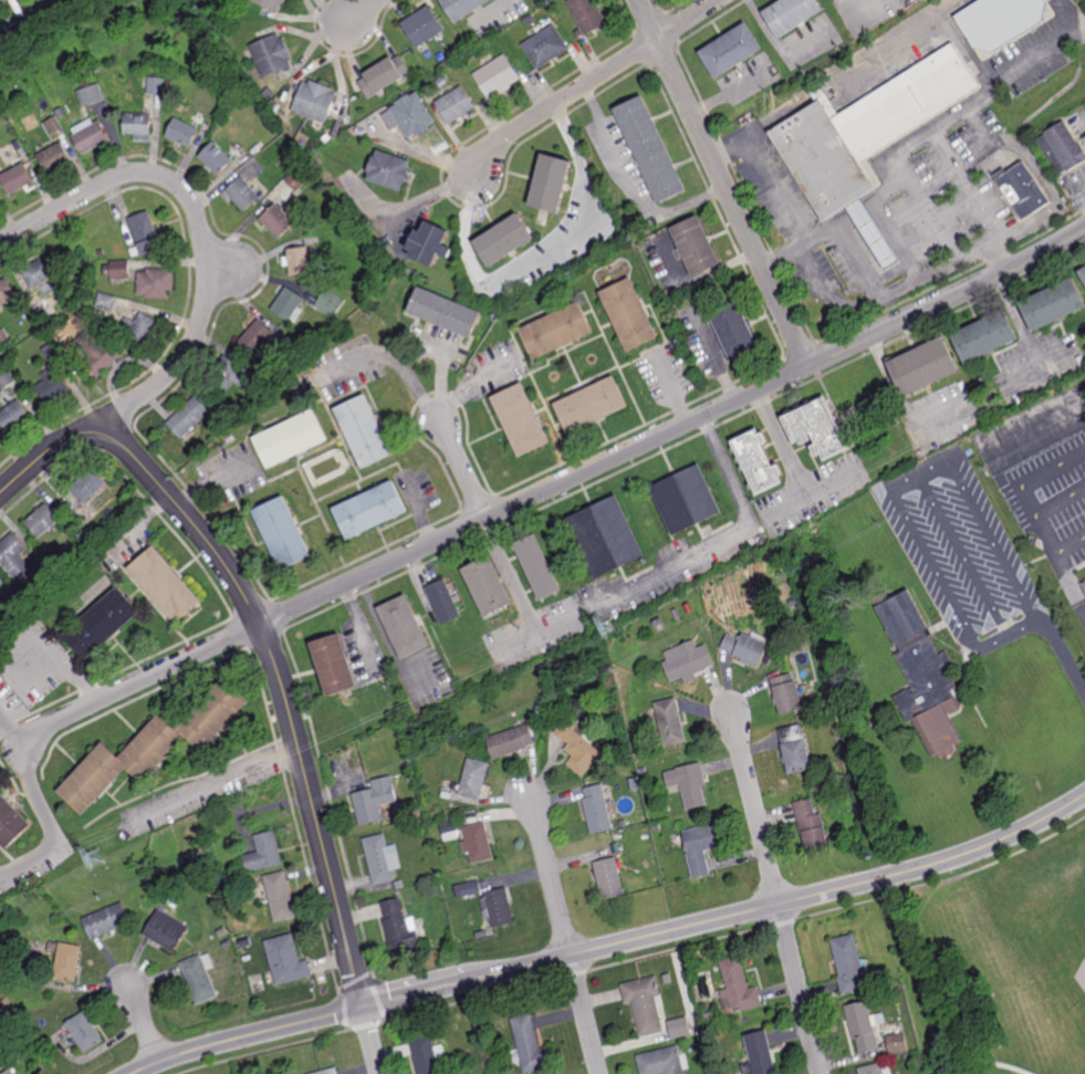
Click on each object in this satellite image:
building: (841, 1)
building: (270, 3)
building: (465, 9)
building: (263, 14)
road: (351, 14)
road: (1068, 14)
building: (792, 15)
building: (587, 17)
building: (530, 21)
building: (1002, 22)
building: (422, 28)
building: (223, 33)
road: (894, 37)
road: (970, 45)
building: (546, 48)
building: (730, 51)
building: (158, 53)
building: (272, 56)
building: (385, 77)
building: (497, 77)
road: (588, 80)
building: (84, 81)
building: (442, 83)
building: (156, 85)
building: (269, 94)
building: (91, 95)
building: (315, 103)
building: (457, 106)
building: (340, 111)
building: (60, 113)
building: (413, 116)
road: (940, 123)
building: (52, 126)
building: (138, 127)
building: (336, 128)
building: (361, 132)
building: (182, 134)
building: (90, 137)
building: (326, 138)
building: (867, 138)
building: (651, 149)
building: (1062, 150)
building: (216, 156)
building: (53, 158)
building: (388, 167)
building: (17, 177)
building: (296, 178)
building: (551, 181)
road: (724, 184)
building: (1023, 190)
building: (243, 192)
road: (775, 196)
building: (340, 210)
building: (277, 219)
building: (146, 233)
building: (504, 237)
road: (202, 238)
building: (430, 242)
building: (697, 246)
building: (100, 252)
road: (544, 258)
building: (296, 260)
building: (116, 270)
building: (39, 271)
building: (90, 274)
building: (1083, 275)
building: (86, 282)
building: (155, 282)
building: (6, 291)
road: (889, 293)
building: (105, 301)
building: (330, 302)
building: (289, 304)
building: (1053, 305)
building: (444, 313)
building: (628, 313)
building: (142, 329)
building: (556, 329)
building: (734, 332)
building: (255, 336)
building: (4, 337)
building: (985, 337)
building: (96, 351)
building: (50, 352)
building: (294, 354)
road: (400, 365)
building: (924, 367)
building: (231, 372)
building: (6, 377)
building: (269, 380)
building: (52, 385)
road: (466, 390)
road: (675, 393)
road: (896, 394)
building: (591, 404)
building: (13, 415)
building: (188, 416)
building: (521, 418)
building: (816, 430)
building: (364, 431)
road: (674, 431)
building: (290, 440)
road: (783, 445)
road: (928, 458)
building: (758, 462)
road: (150, 473)
road: (463, 473)
building: (88, 484)
road: (209, 486)
road: (896, 493)
road: (811, 494)
building: (687, 499)
road: (1027, 501)
road: (1061, 504)
building: (369, 510)
building: (42, 519)
building: (282, 534)
building: (607, 536)
road: (729, 542)
building: (14, 555)
building: (58, 562)
road: (1031, 562)
building: (536, 569)
road: (1070, 580)
building: (166, 584)
building: (1084, 584)
building: (489, 587)
building: (36, 590)
road: (518, 596)
building: (444, 602)
building: (794, 603)
building: (677, 614)
building: (103, 623)
building: (658, 625)
building: (404, 626)
power tower: (612, 629)
road: (518, 640)
building: (747, 647)
road: (1062, 656)
building: (687, 661)
building: (333, 665)
building: (924, 676)
road: (138, 682)
building: (607, 684)
building: (787, 694)
building: (539, 709)
building: (669, 721)
building: (511, 739)
building: (467, 743)
building: (480, 745)
building: (577, 747)
building: (152, 748)
building: (796, 750)
building: (643, 771)
building: (409, 776)
building: (474, 779)
road: (217, 780)
building: (635, 783)
building: (688, 784)
building: (374, 800)
road: (41, 805)
building: (597, 810)
road: (754, 810)
road: (315, 815)
building: (644, 818)
building: (11, 823)
building: (656, 826)
building: (813, 826)
building: (449, 831)
building: (478, 844)
building: (650, 846)
building: (700, 848)
building: (262, 854)
building: (204, 857)
building: (380, 858)
power tower: (93, 859)
building: (609, 877)
road: (550, 882)
building: (399, 885)
building: (468, 890)
building: (278, 896)
building: (498, 907)
road: (729, 917)
building: (107, 921)
building: (399, 927)
building: (167, 931)
building: (222, 931)
building: (244, 942)
building: (226, 943)
building: (285, 959)
building: (67, 962)
building: (851, 964)
road: (917, 976)
building: (200, 977)
park: (981, 977)
building: (878, 980)
building: (738, 987)
road: (800, 989)
building: (2, 1003)
building: (644, 1003)
building: (900, 1005)
road: (586, 1014)
building: (711, 1018)
building: (864, 1024)
road: (144, 1025)
building: (678, 1028)
building: (85, 1031)
road: (246, 1036)
road: (371, 1041)
building: (899, 1042)
building: (530, 1044)
building: (24, 1051)
building: (425, 1054)
building: (761, 1054)
building: (908, 1056)
building: (660, 1062)
road: (988, 1062)
building: (873, 1068)
building: (326, 1071)
building: (10, 1072)

